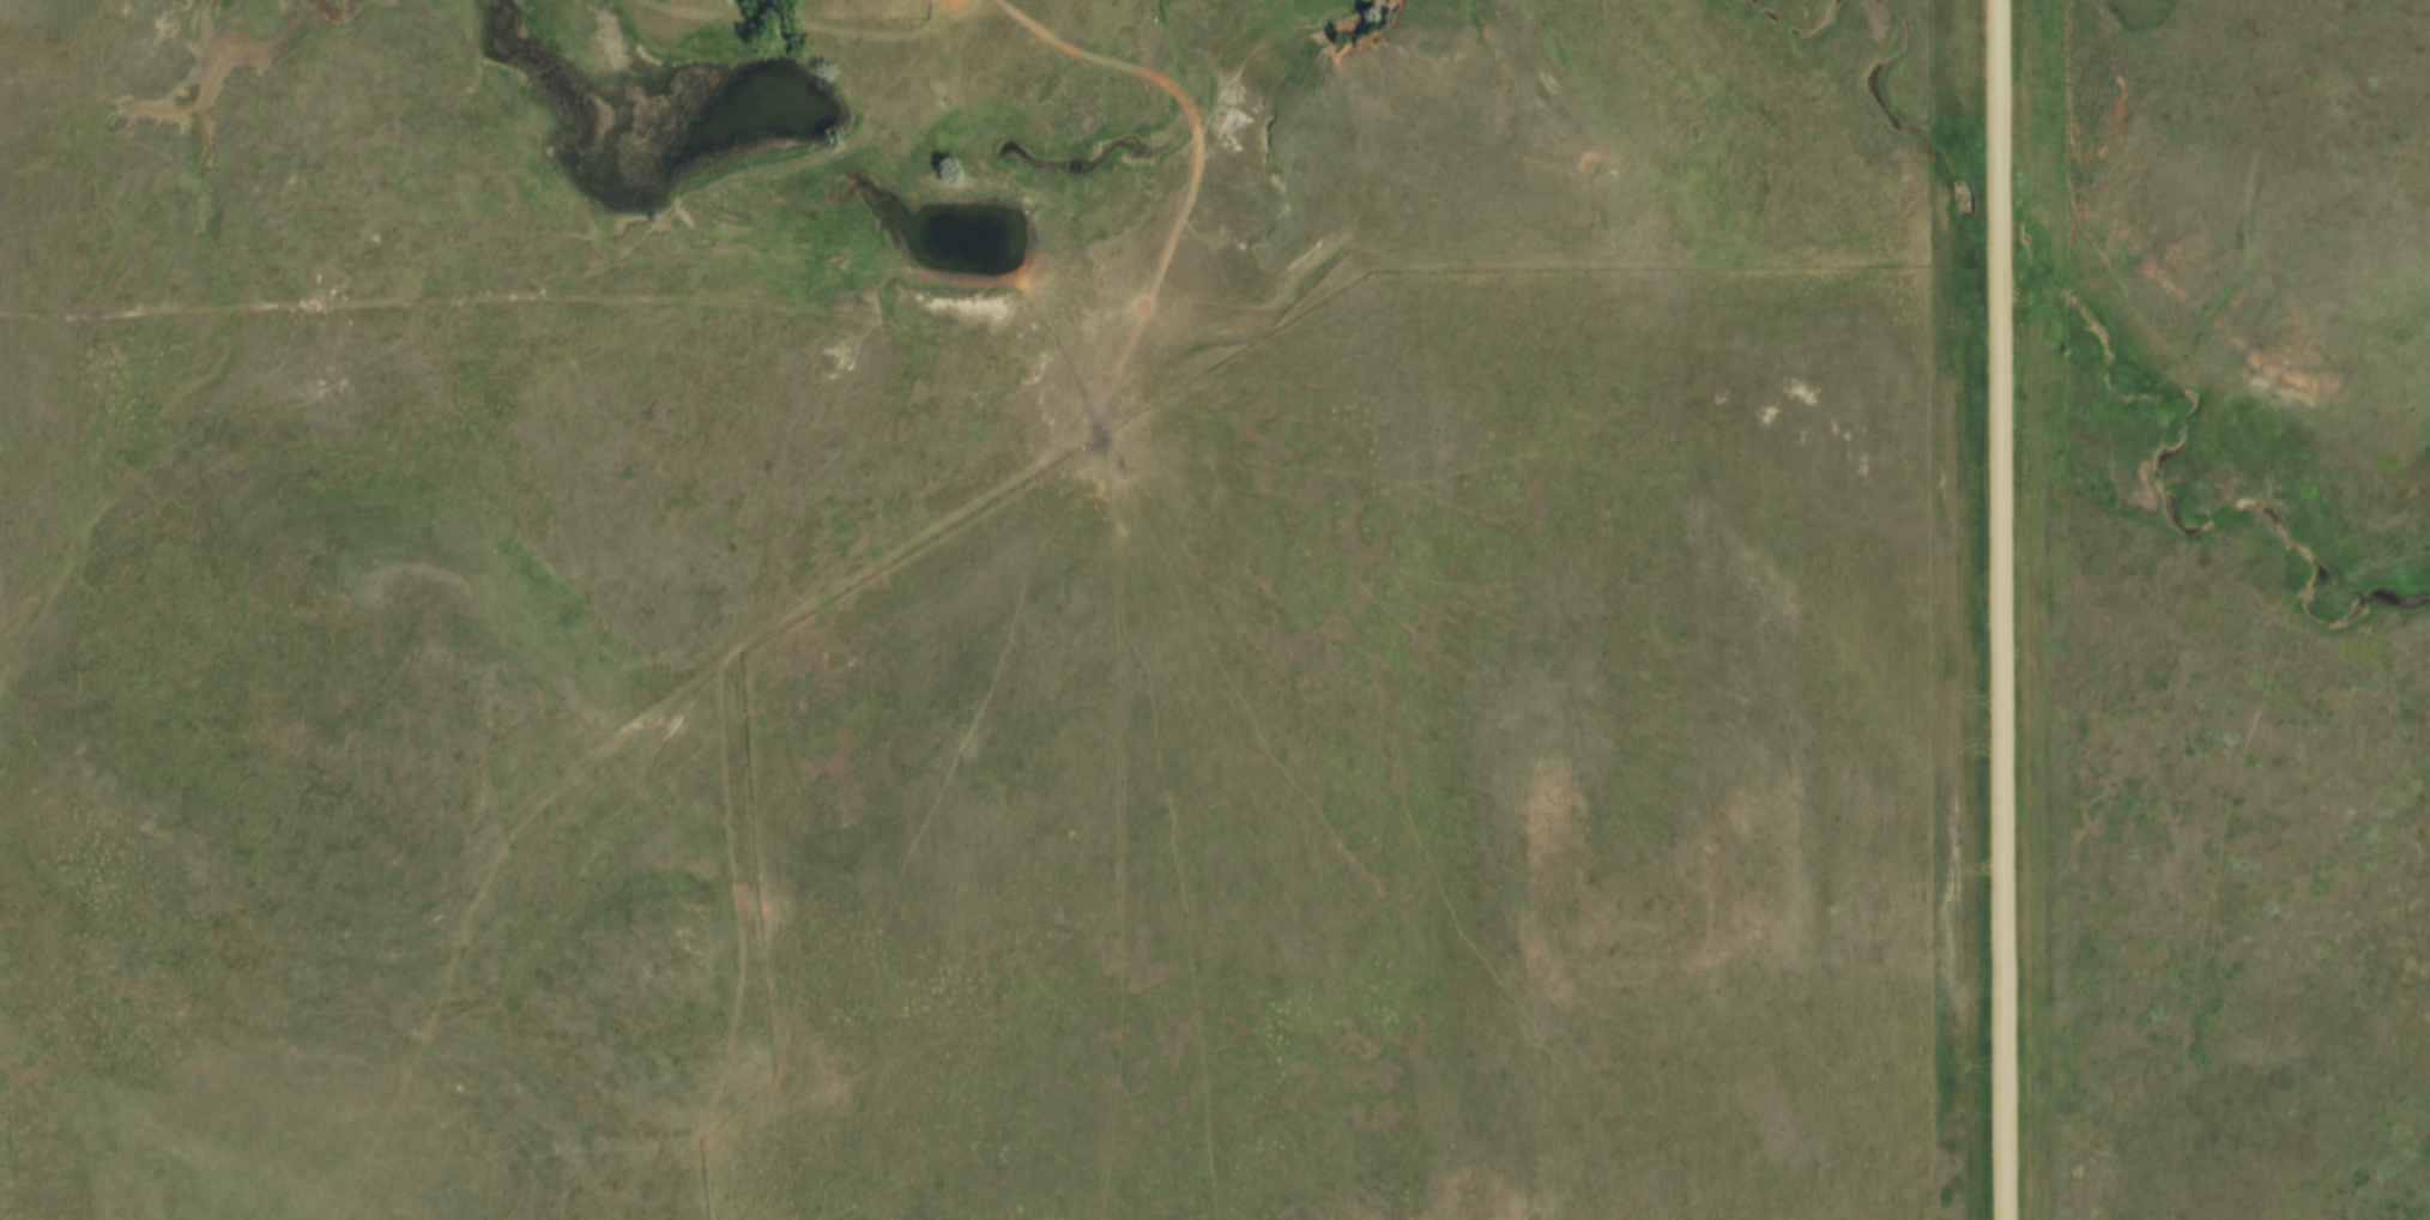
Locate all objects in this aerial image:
road: (1197, 135)
road: (2002, 609)

